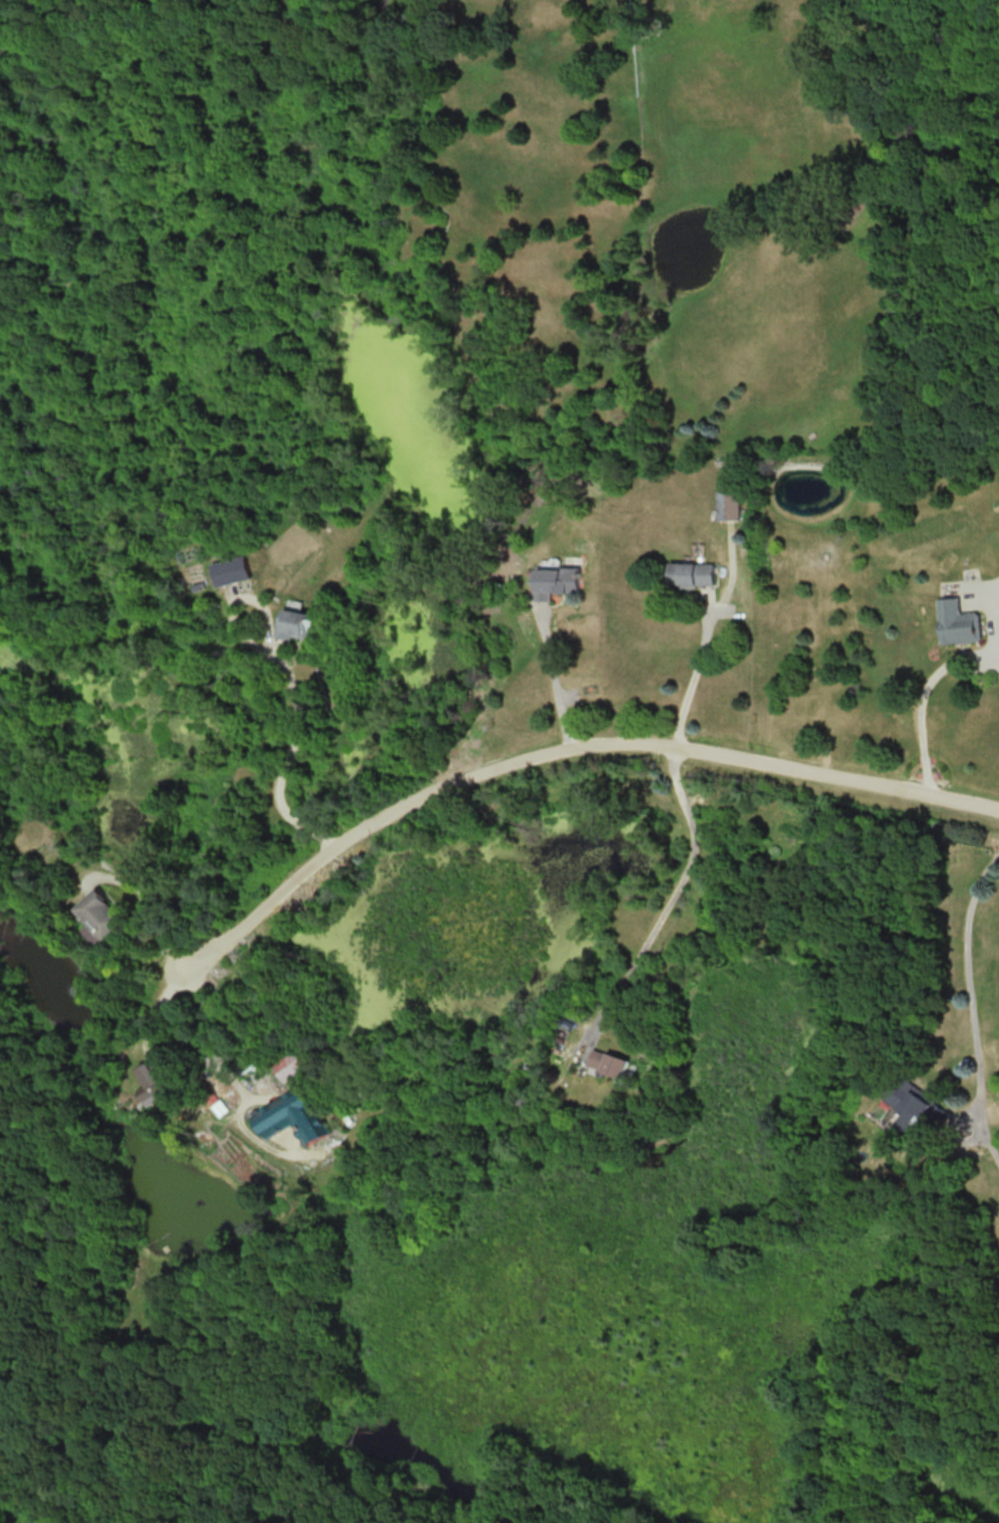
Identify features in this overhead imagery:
building: (729, 505)
building: (231, 570)
building: (691, 573)
building: (557, 581)
building: (957, 622)
building: (293, 624)
road: (695, 676)
road: (556, 682)
road: (920, 690)
road: (565, 753)
road: (288, 757)
road: (675, 891)
road: (145, 907)
building: (100, 915)
road: (971, 1004)
road: (208, 1039)
building: (611, 1062)
building: (289, 1064)
building: (153, 1083)
building: (913, 1105)

